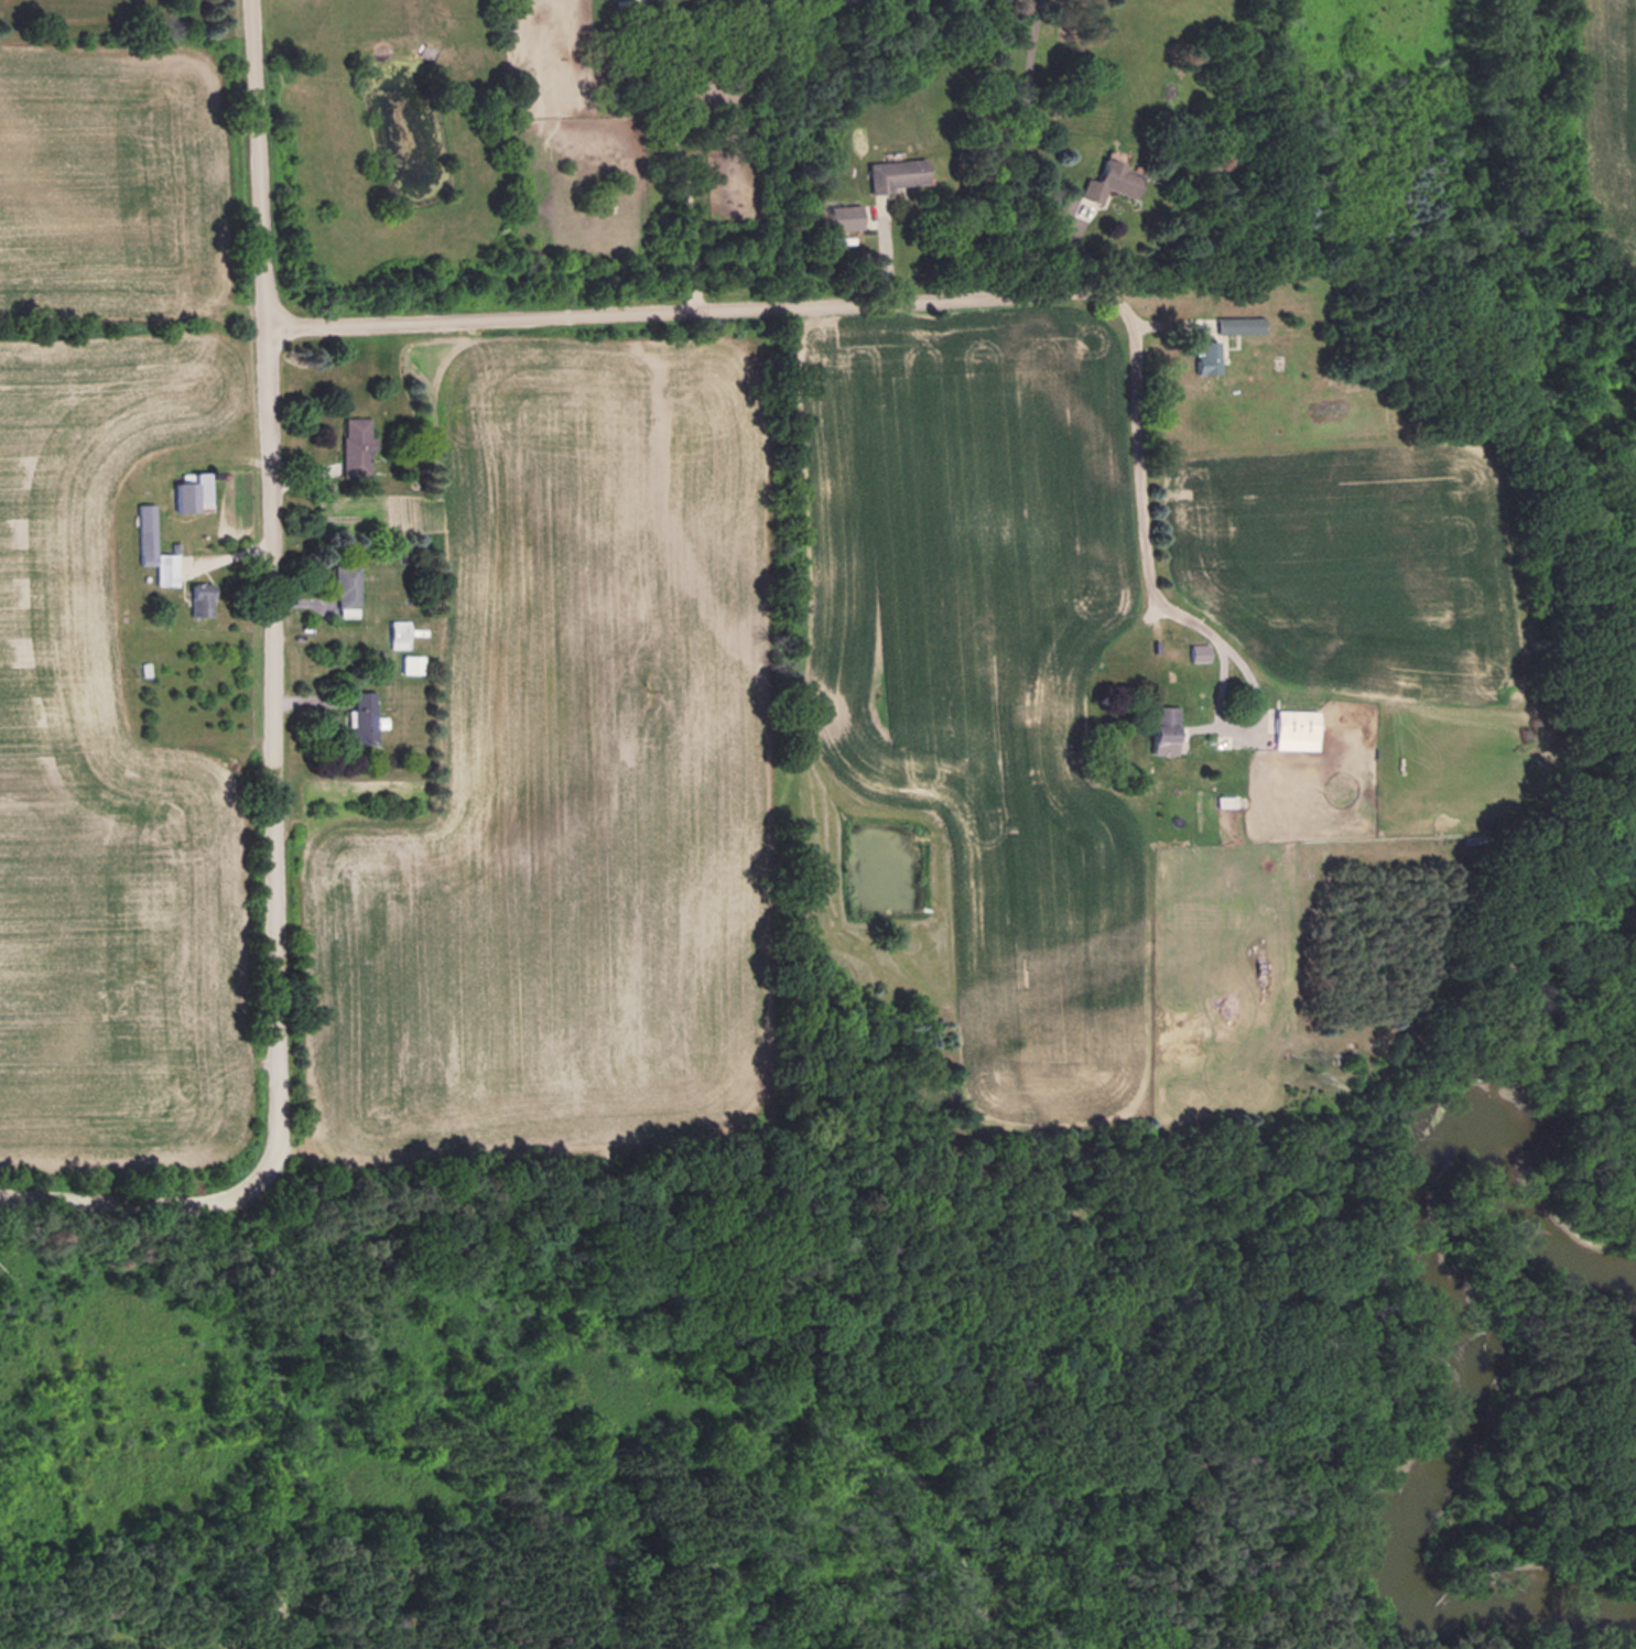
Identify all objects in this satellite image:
building: (893, 174)
building: (1106, 183)
building: (844, 218)
road: (684, 306)
building: (1238, 325)
building: (1204, 357)
building: (354, 446)
building: (188, 493)
road: (1138, 503)
building: (150, 547)
building: (343, 586)
road: (275, 589)
building: (197, 599)
building: (1198, 652)
building: (361, 717)
building: (1293, 729)
building: (1160, 730)
building: (1226, 801)
road: (134, 1193)
river: (1474, 1306)
park: (910, 1356)
road: (266, 1390)
road: (271, 1627)

